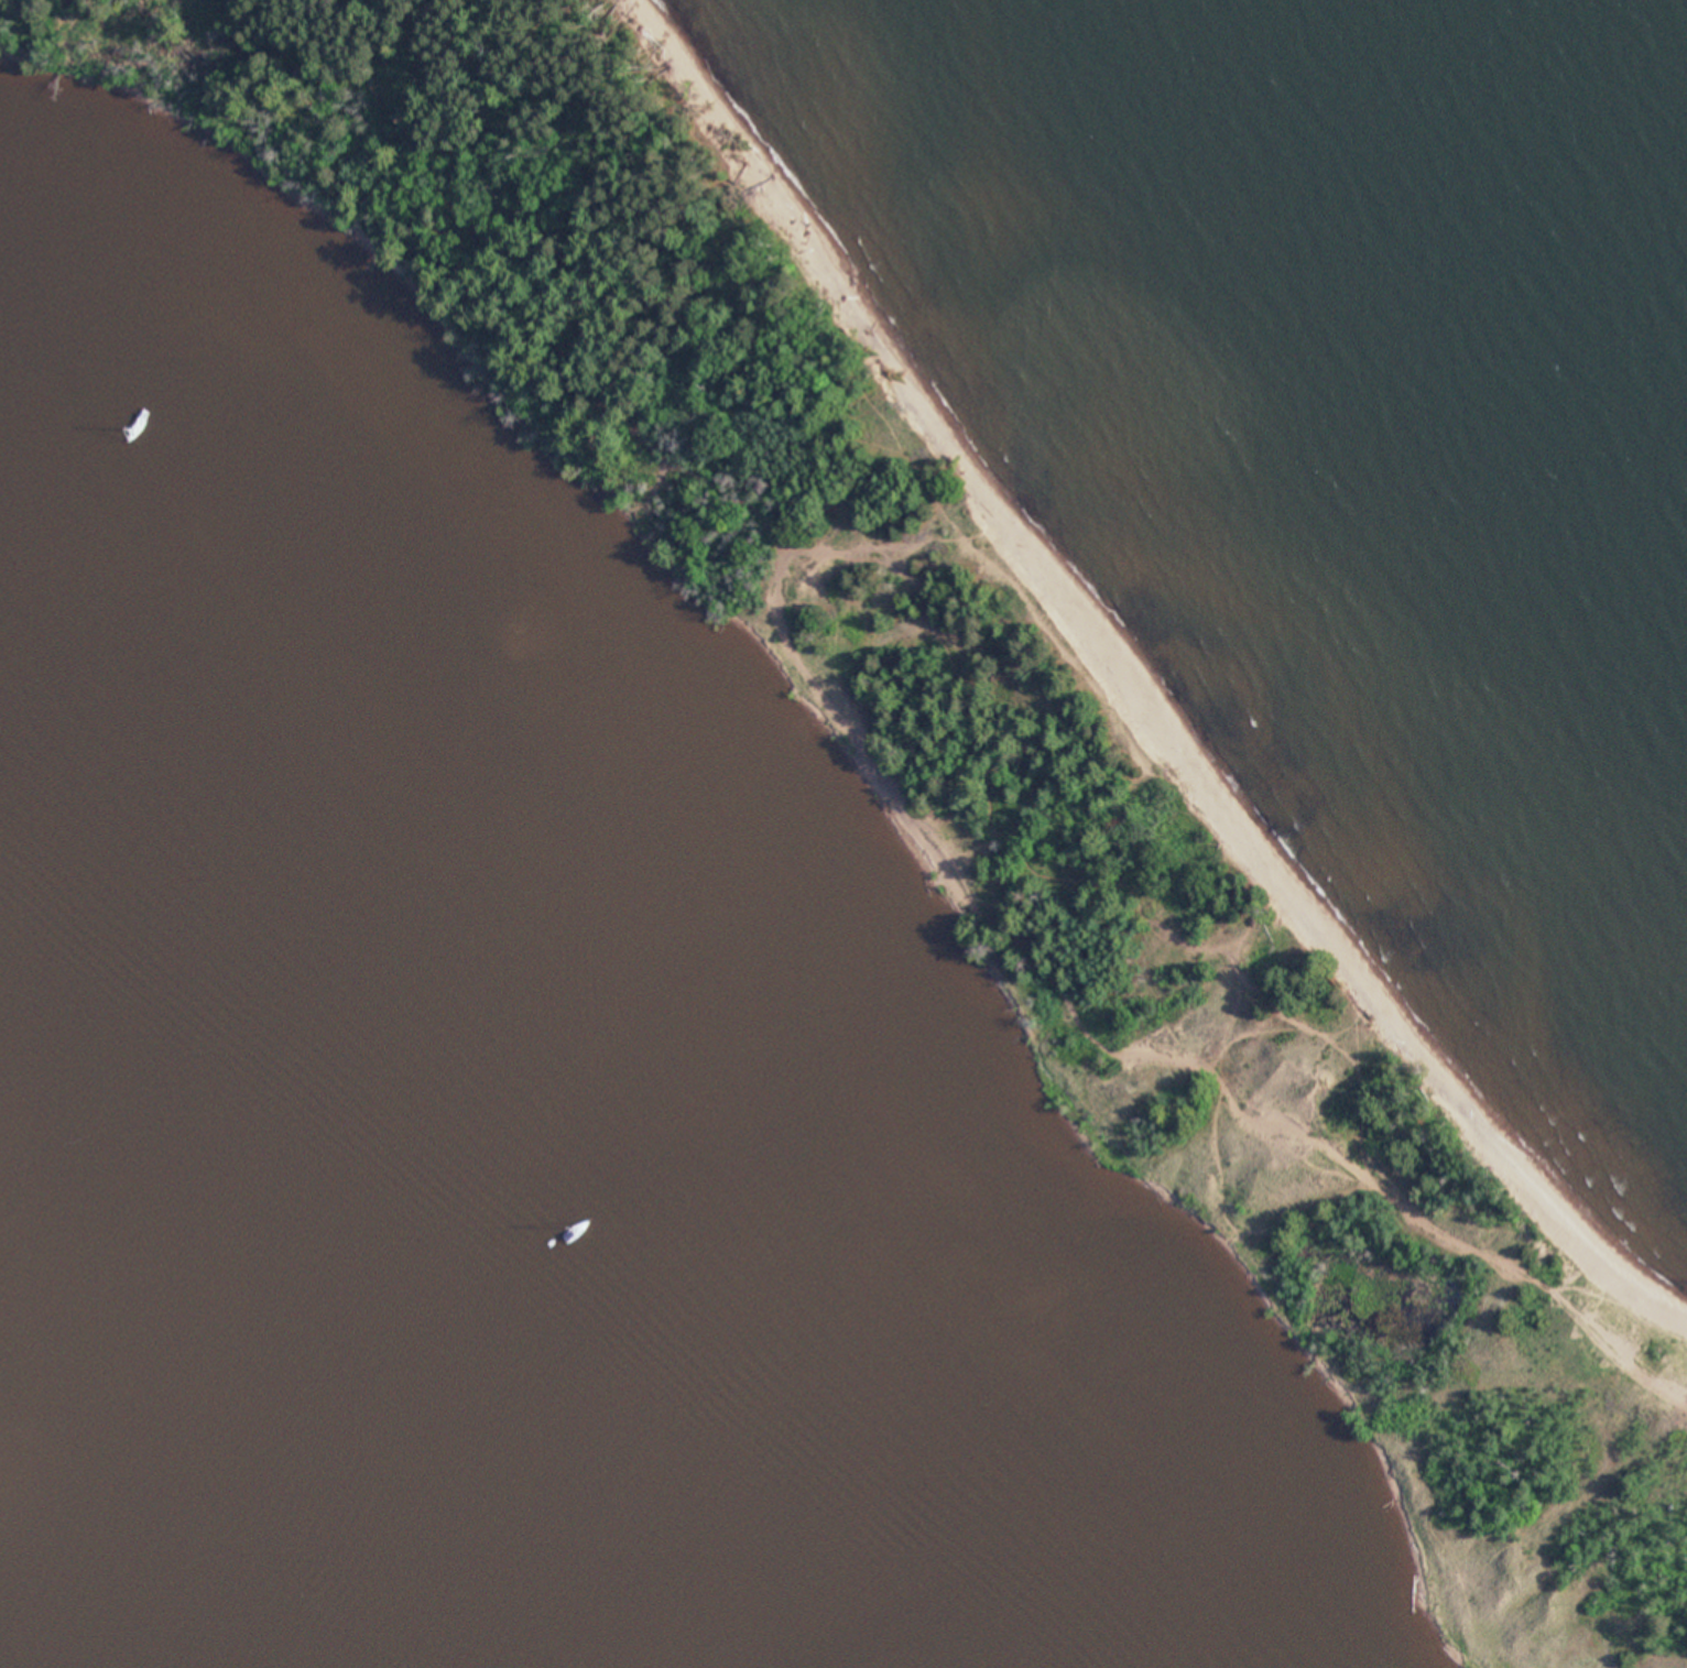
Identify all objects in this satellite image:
road: (901, 798)

